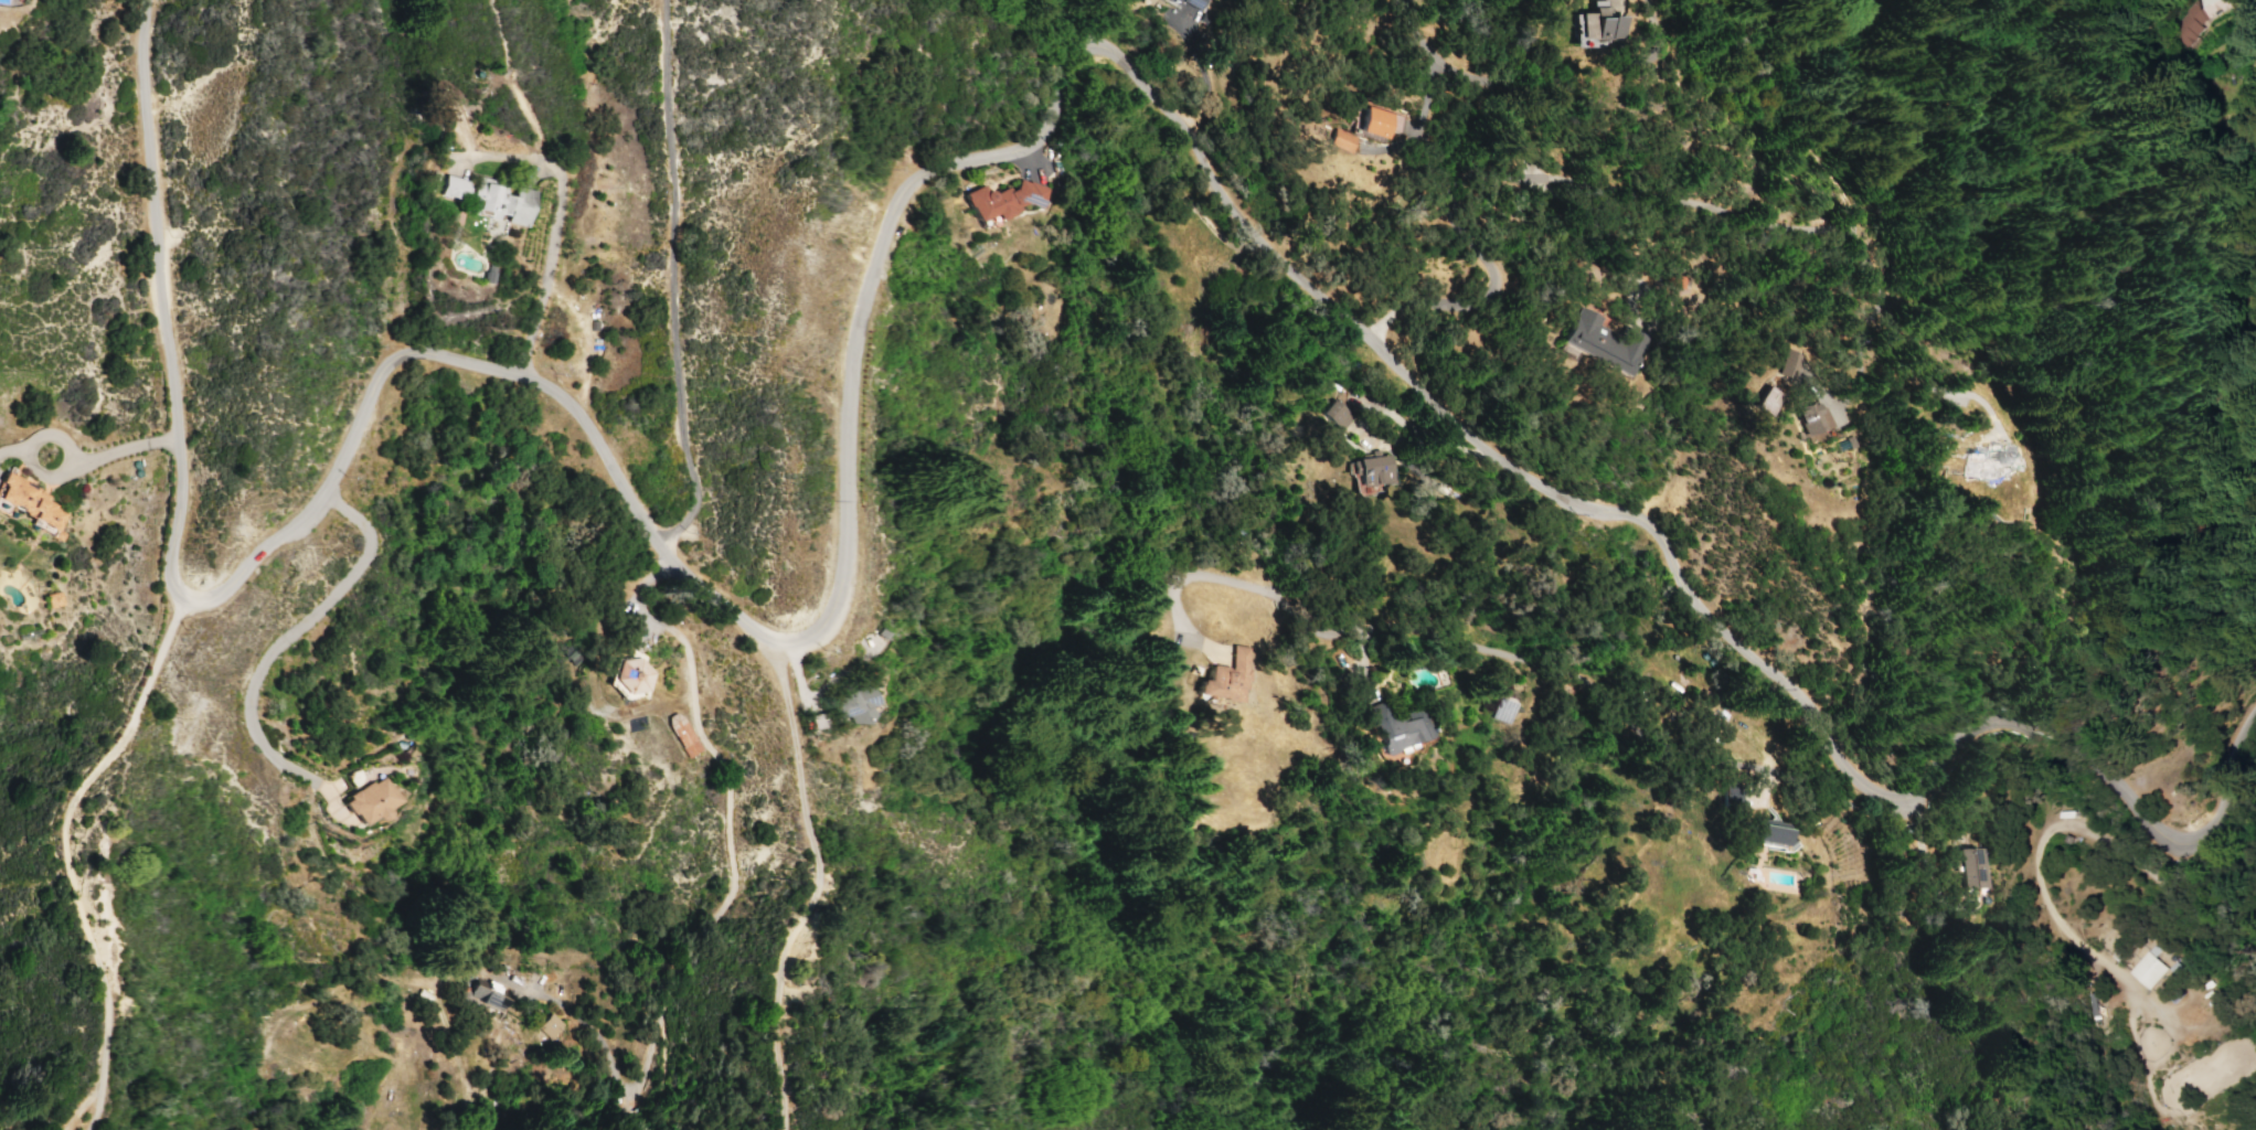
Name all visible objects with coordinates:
building: (2246, 1)
building: (1193, 4)
building: (2184, 4)
building: (2156, 22)
building: (1593, 25)
road: (1497, 86)
road: (1822, 115)
building: (1376, 121)
building: (1340, 140)
building: (451, 188)
building: (1001, 200)
building: (498, 201)
road: (556, 212)
road: (1828, 228)
road: (1277, 258)
road: (1487, 263)
road: (671, 280)
building: (1600, 343)
building: (1795, 363)
road: (540, 384)
building: (1768, 401)
building: (1334, 415)
building: (1813, 422)
road: (61, 438)
road: (123, 448)
building: (1372, 470)
road: (171, 537)
building: (52, 599)
road: (280, 644)
road: (1485, 644)
building: (628, 676)
building: (1228, 678)
building: (851, 705)
building: (1391, 727)
building: (680, 734)
building: (368, 801)
building: (1766, 832)
road: (64, 852)
road: (2031, 861)
building: (1970, 867)
road: (730, 896)
building: (2147, 970)
crop: (128, 991)
building: (481, 999)
building: (547, 1025)

